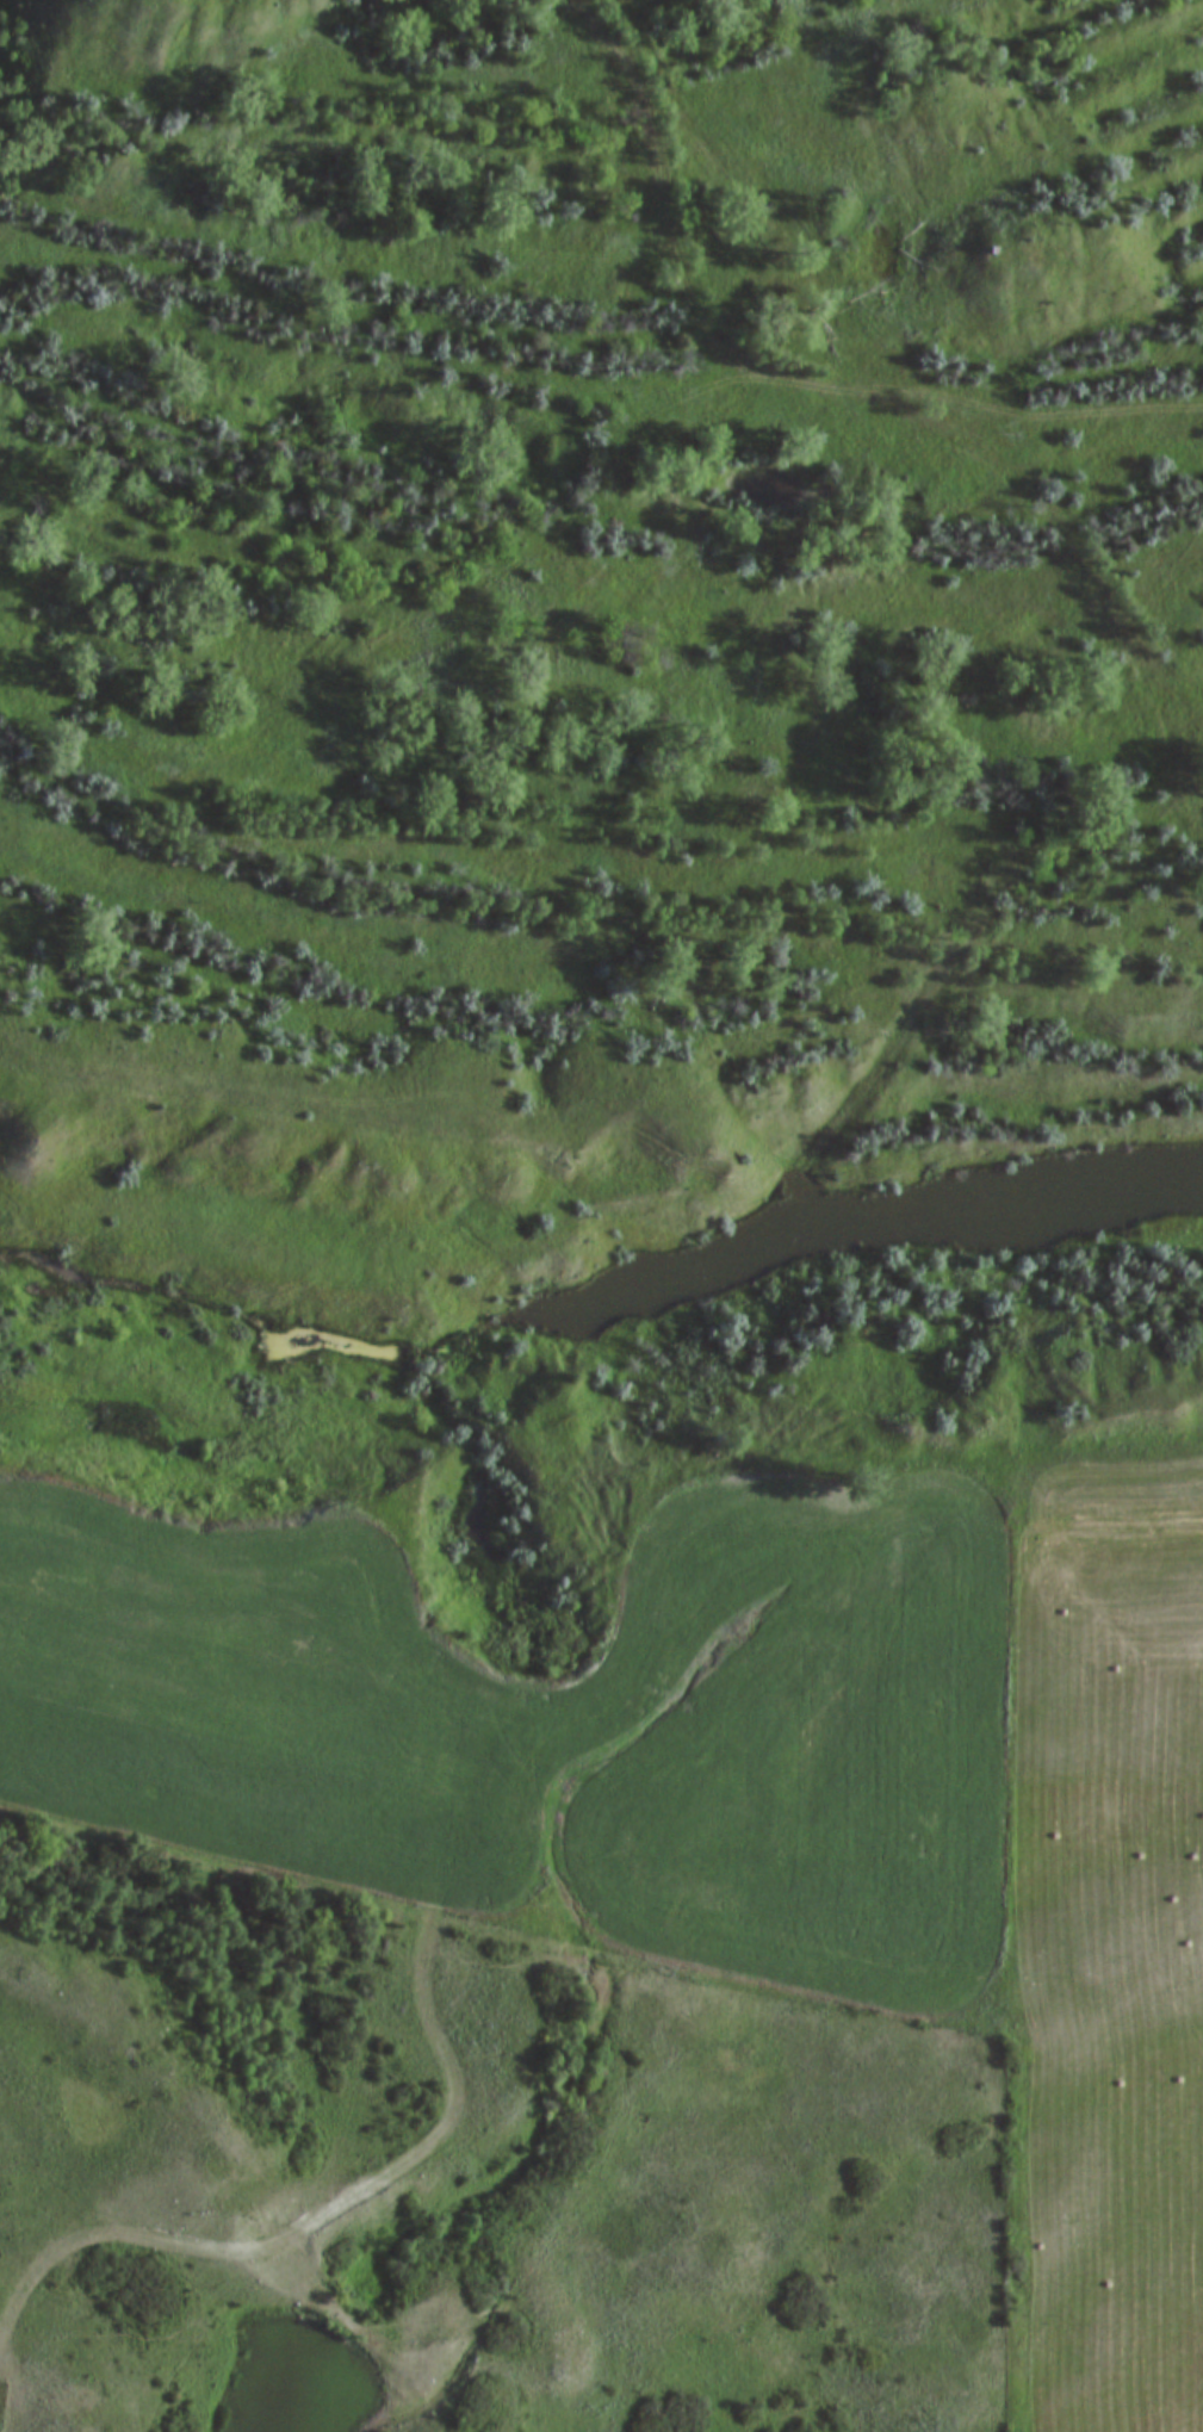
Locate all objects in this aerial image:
road: (773, 371)
quarry: (645, 660)

